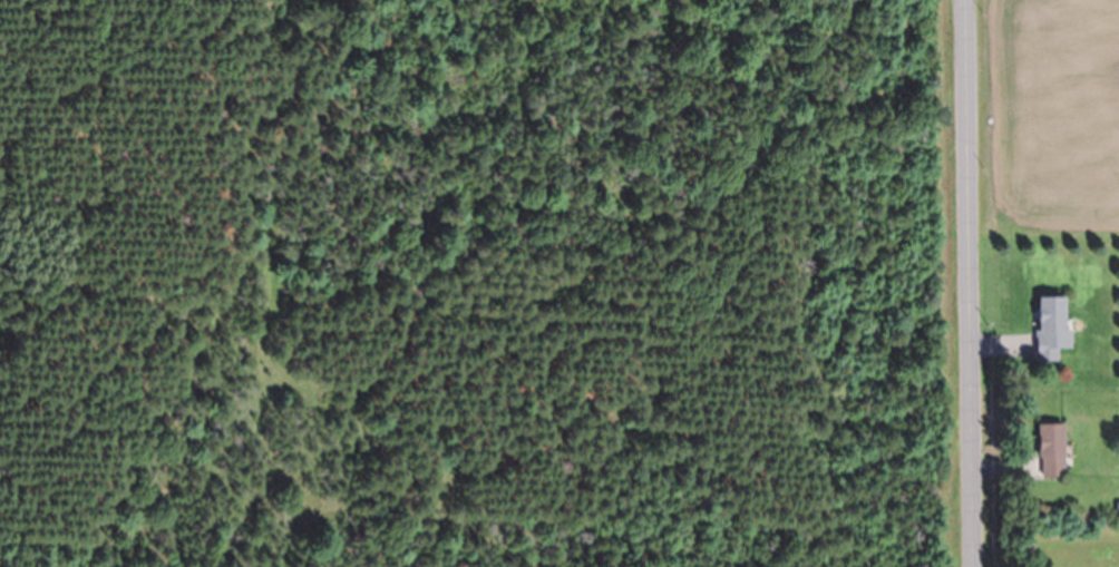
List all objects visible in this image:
crop: (1070, 121)
road: (966, 283)
building: (1051, 328)
building: (1051, 451)

